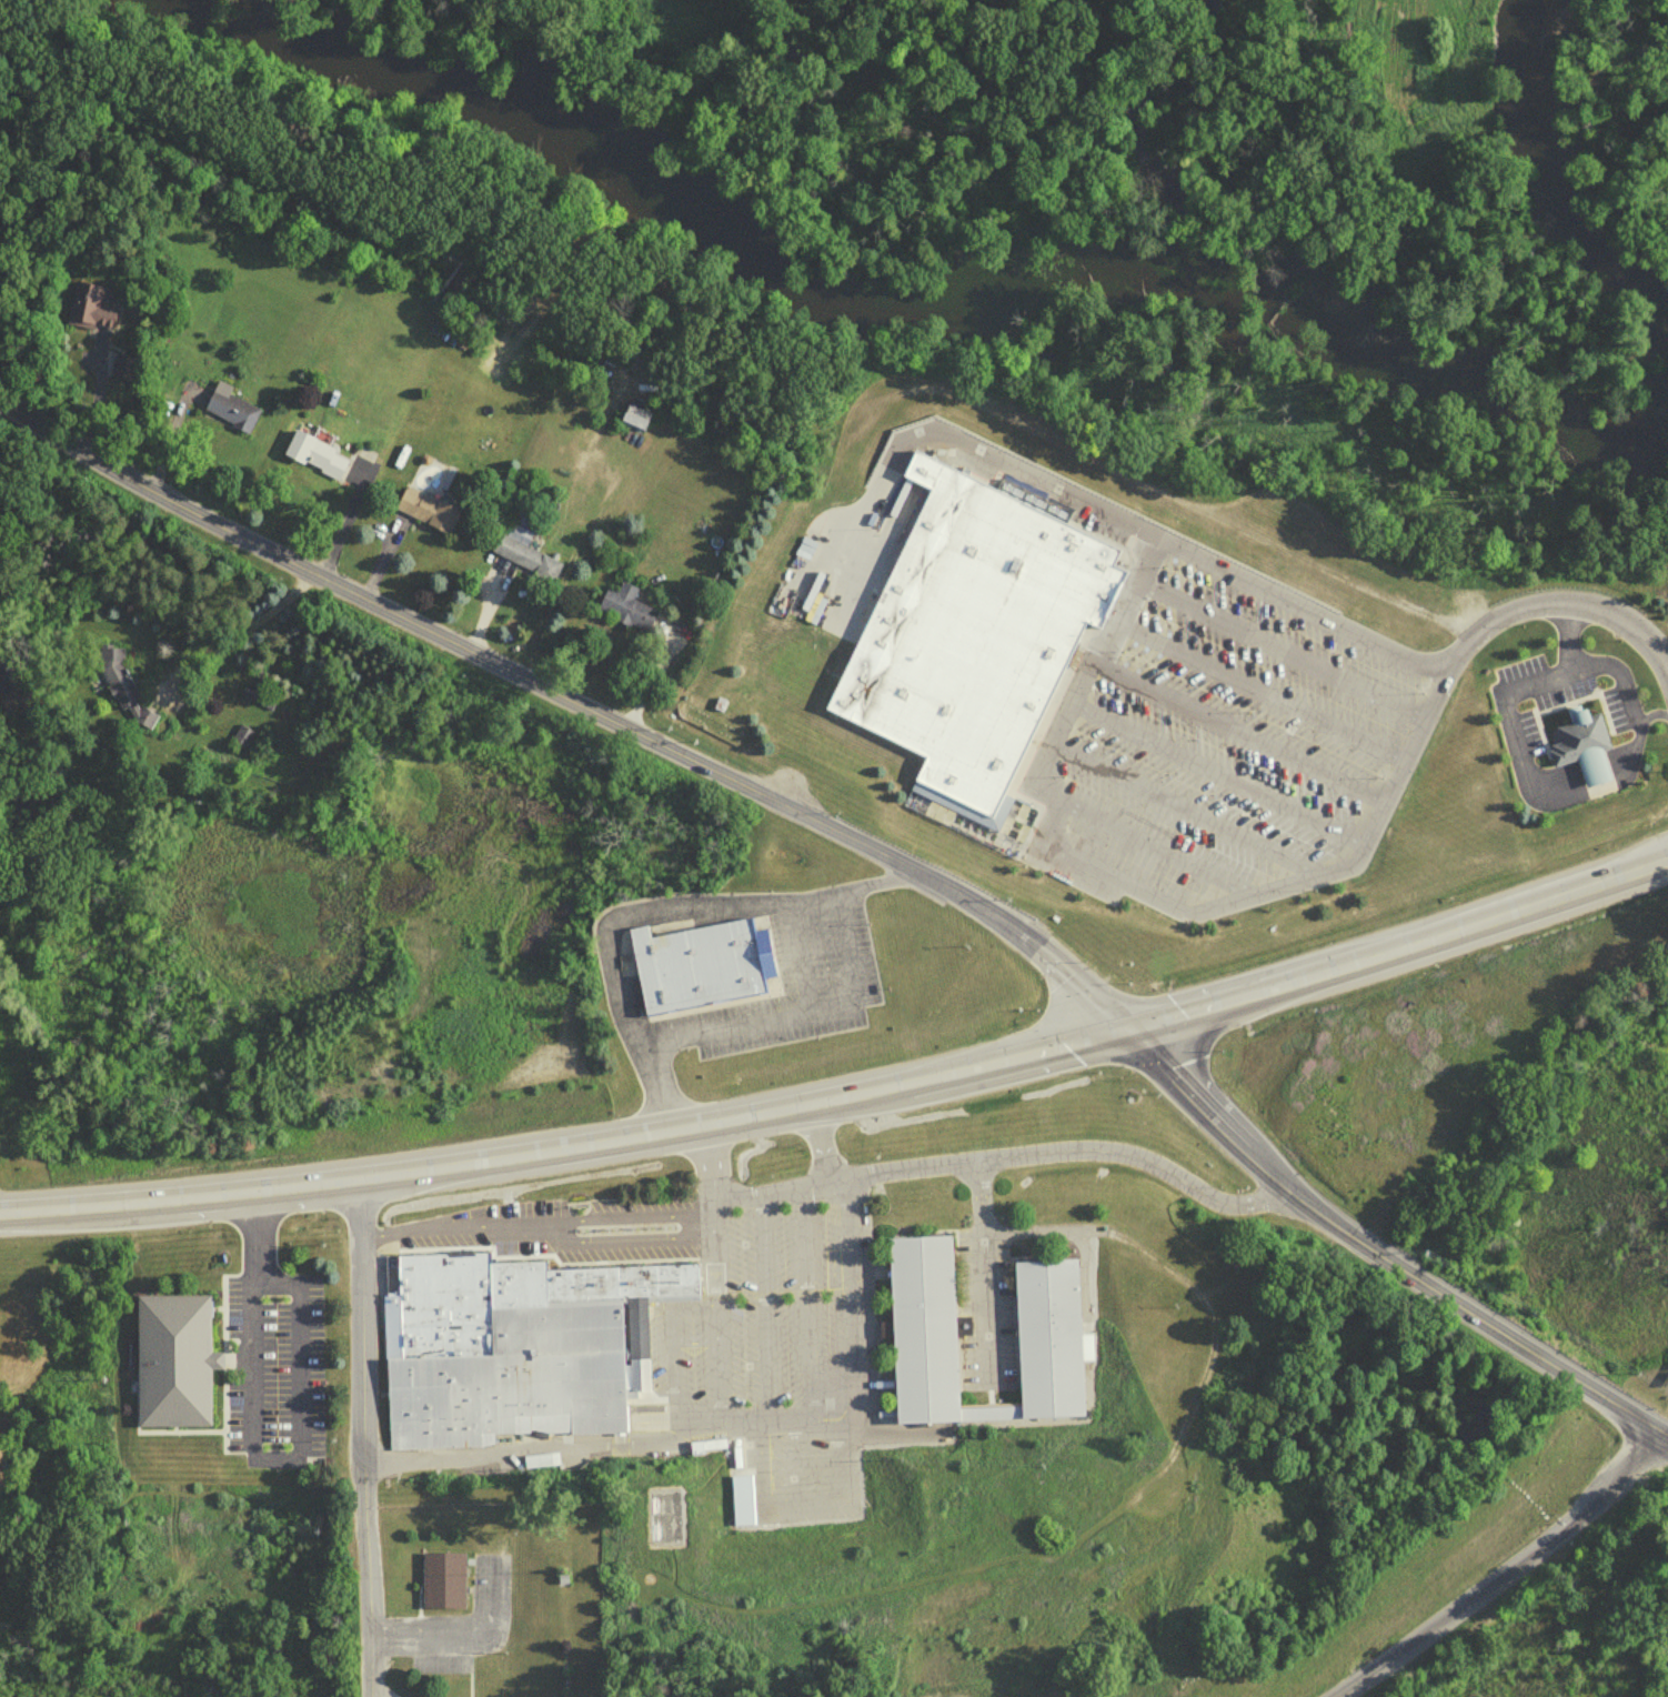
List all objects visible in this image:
road: (731, 86)
river: (1548, 185)
river: (923, 309)
building: (91, 313)
building: (232, 414)
building: (636, 422)
building: (316, 461)
building: (426, 515)
road: (862, 529)
road: (1165, 542)
building: (525, 563)
road: (1559, 604)
building: (626, 613)
building: (973, 640)
road: (1283, 653)
road: (1520, 682)
road: (1620, 689)
building: (123, 692)
road: (1264, 695)
road: (576, 700)
road: (1238, 736)
parking lot: (1225, 750)
building: (1584, 753)
road: (1218, 779)
road: (1185, 813)
road: (1149, 847)
road: (1135, 896)
road: (673, 922)
building: (701, 972)
road: (795, 1010)
traffic signals: (1135, 1032)
road: (846, 1102)
building: (1393, 1128)
road: (825, 1146)
road: (1003, 1159)
road: (705, 1169)
flagpole: (566, 1204)
flagpole: (577, 1204)
flagpole: (572, 1208)
road: (534, 1217)
road: (1381, 1258)
road: (974, 1272)
building: (1041, 1294)
road: (805, 1302)
road: (762, 1305)
road: (836, 1313)
road: (710, 1314)
building: (510, 1343)
road: (661, 1348)
building: (171, 1357)
road: (360, 1440)
building: (695, 1442)
road: (585, 1443)
road: (255, 1450)
building: (709, 1452)
building: (733, 1497)
building: (556, 1575)
road: (1498, 1575)
building: (439, 1577)
road: (421, 1629)

